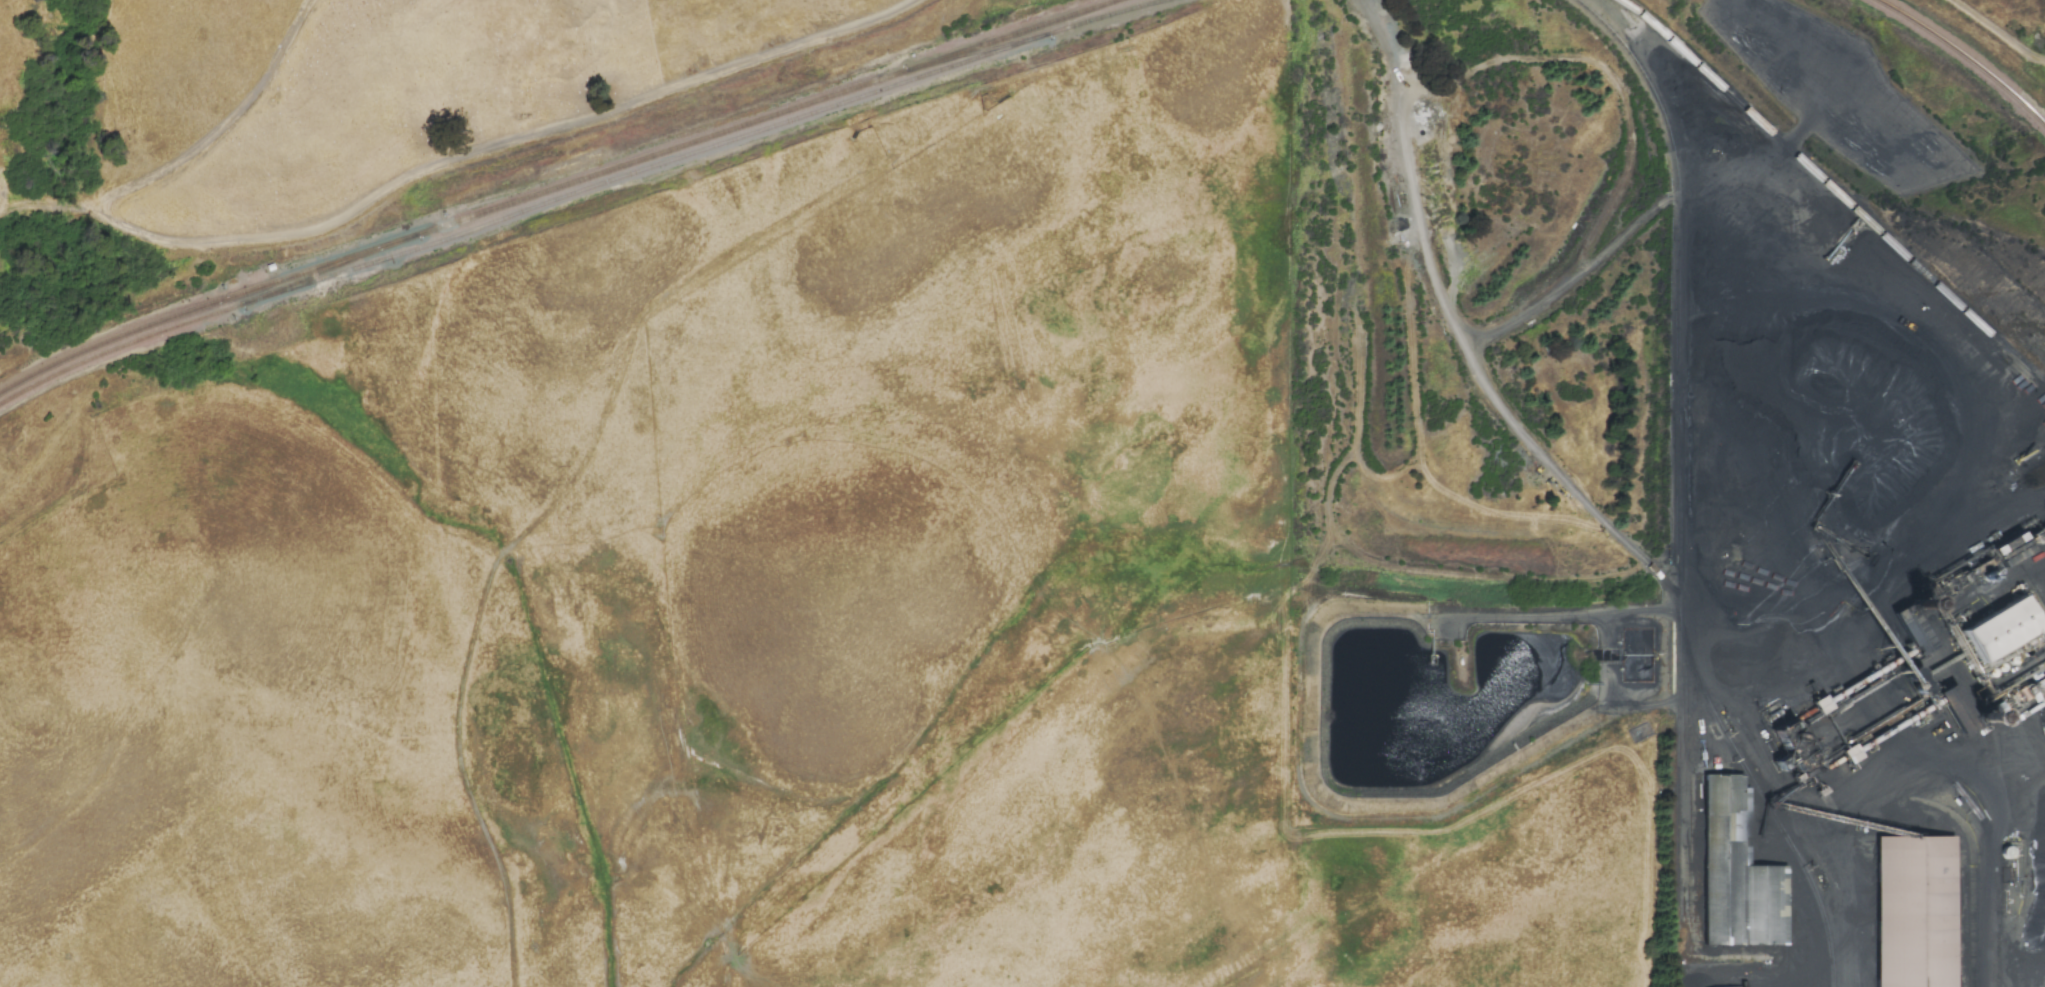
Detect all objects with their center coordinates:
railway: (1967, 57)
railway: (721, 144)
road: (190, 165)
railway: (558, 189)
railway: (1836, 189)
railway: (345, 266)
railway: (134, 344)
railway: (1684, 442)
building: (1998, 630)
building: (2036, 684)
building: (1956, 709)
building: (1849, 754)
road: (2022, 783)
railway: (1764, 799)
building: (1736, 873)
road: (1997, 892)
building: (1914, 911)

